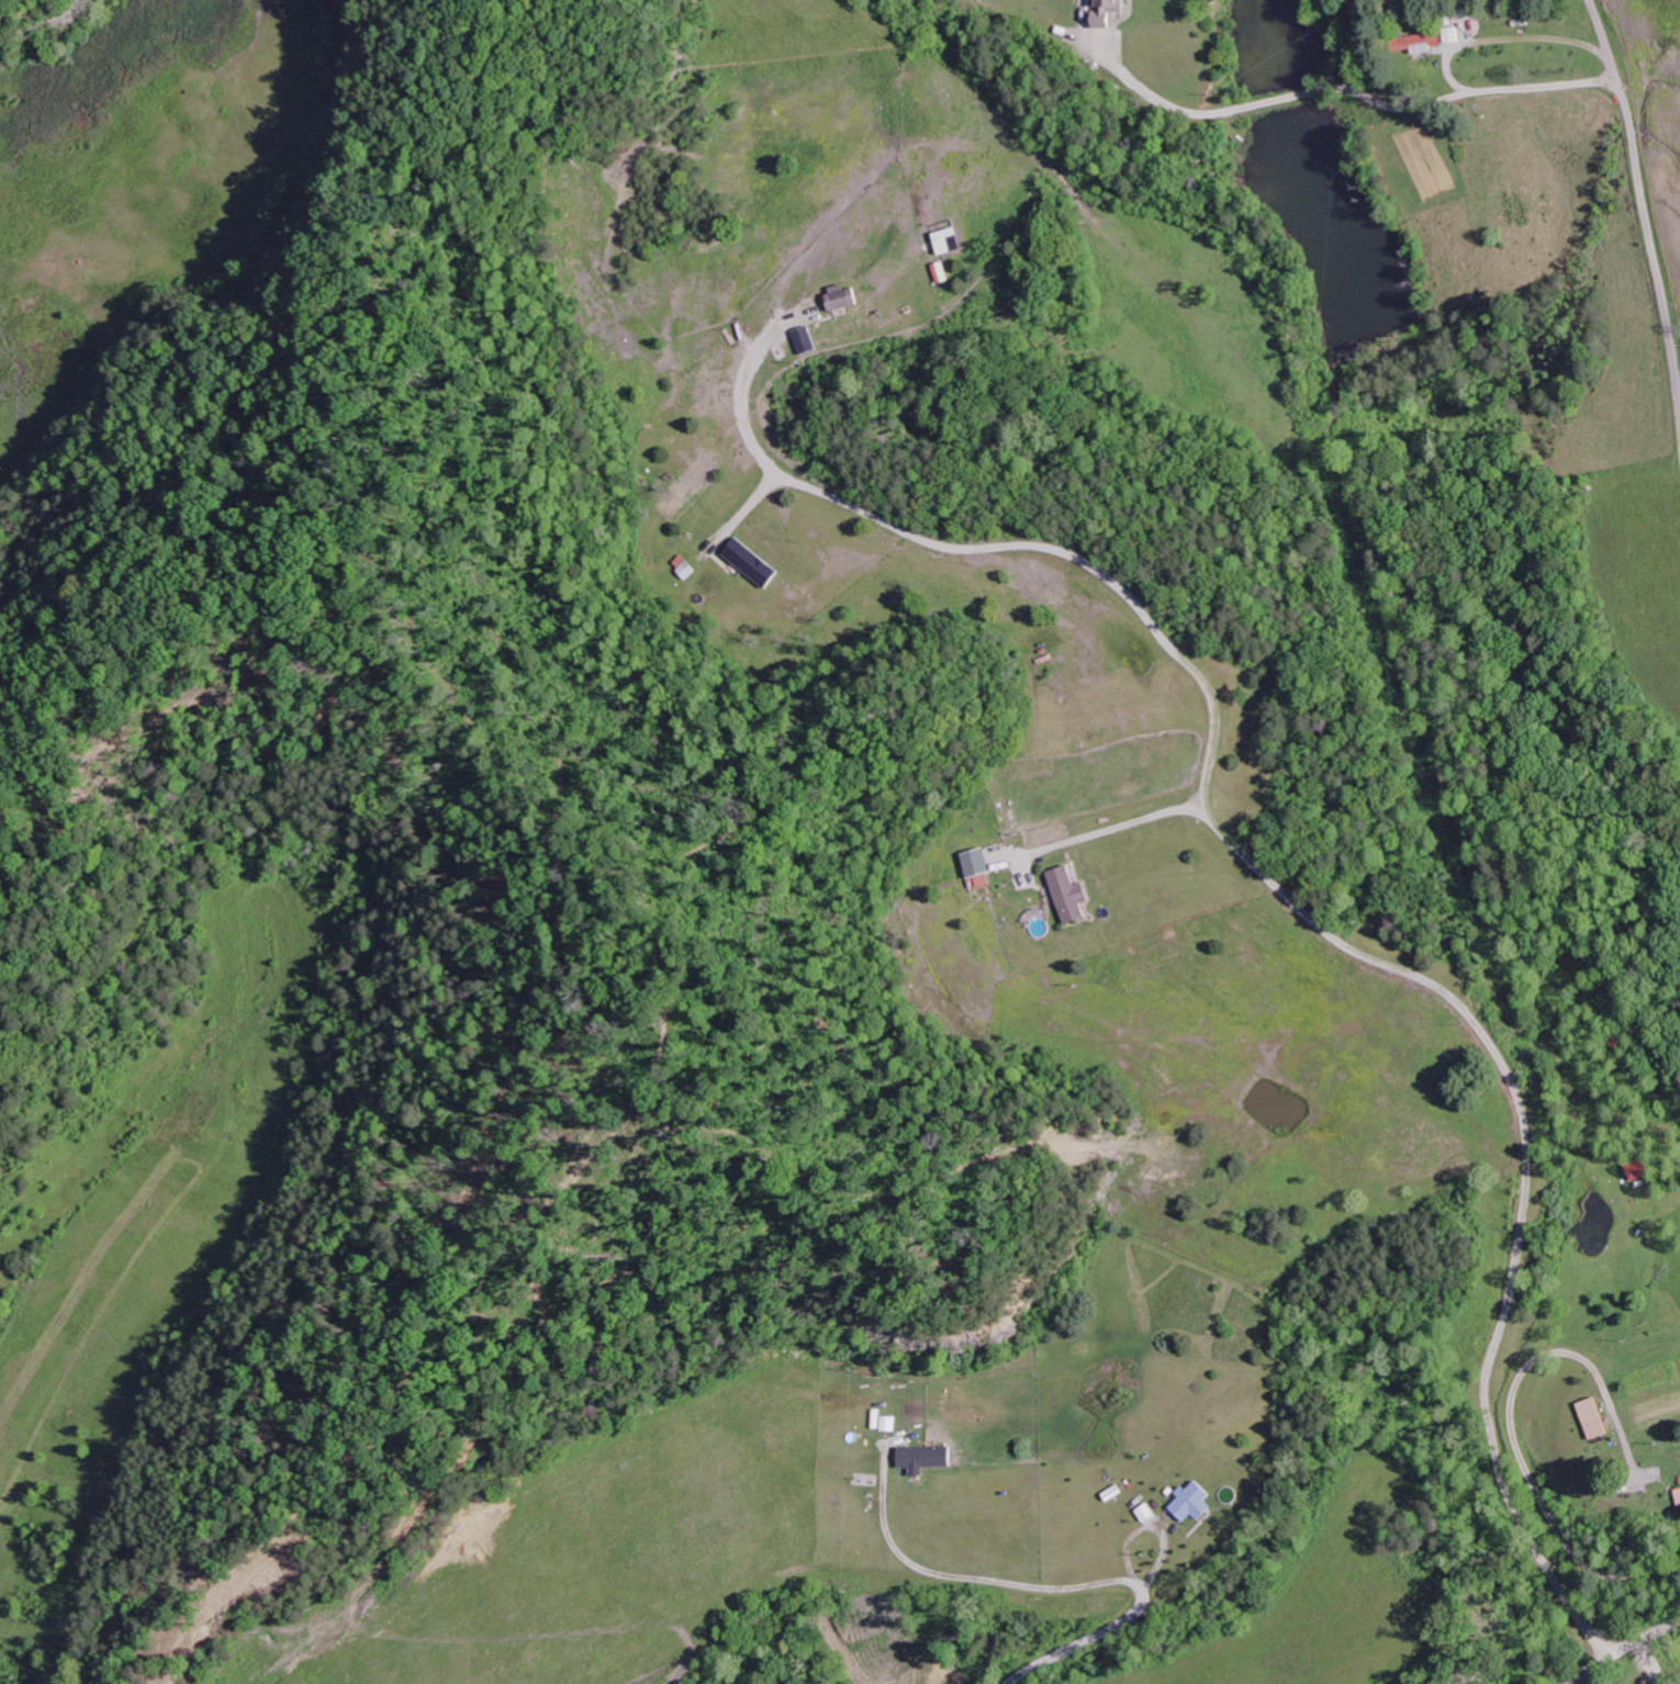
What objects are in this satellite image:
building: (1110, 13)
building: (1424, 43)
road: (1644, 203)
building: (950, 240)
building: (847, 299)
building: (810, 340)
building: (752, 563)
building: (684, 566)
building: (979, 863)
building: (982, 882)
building: (1074, 895)
building: (1597, 1418)
road: (1512, 1423)
building: (928, 1458)
building: (1679, 1491)
building: (1196, 1502)
building: (1151, 1513)
road: (1620, 1658)

